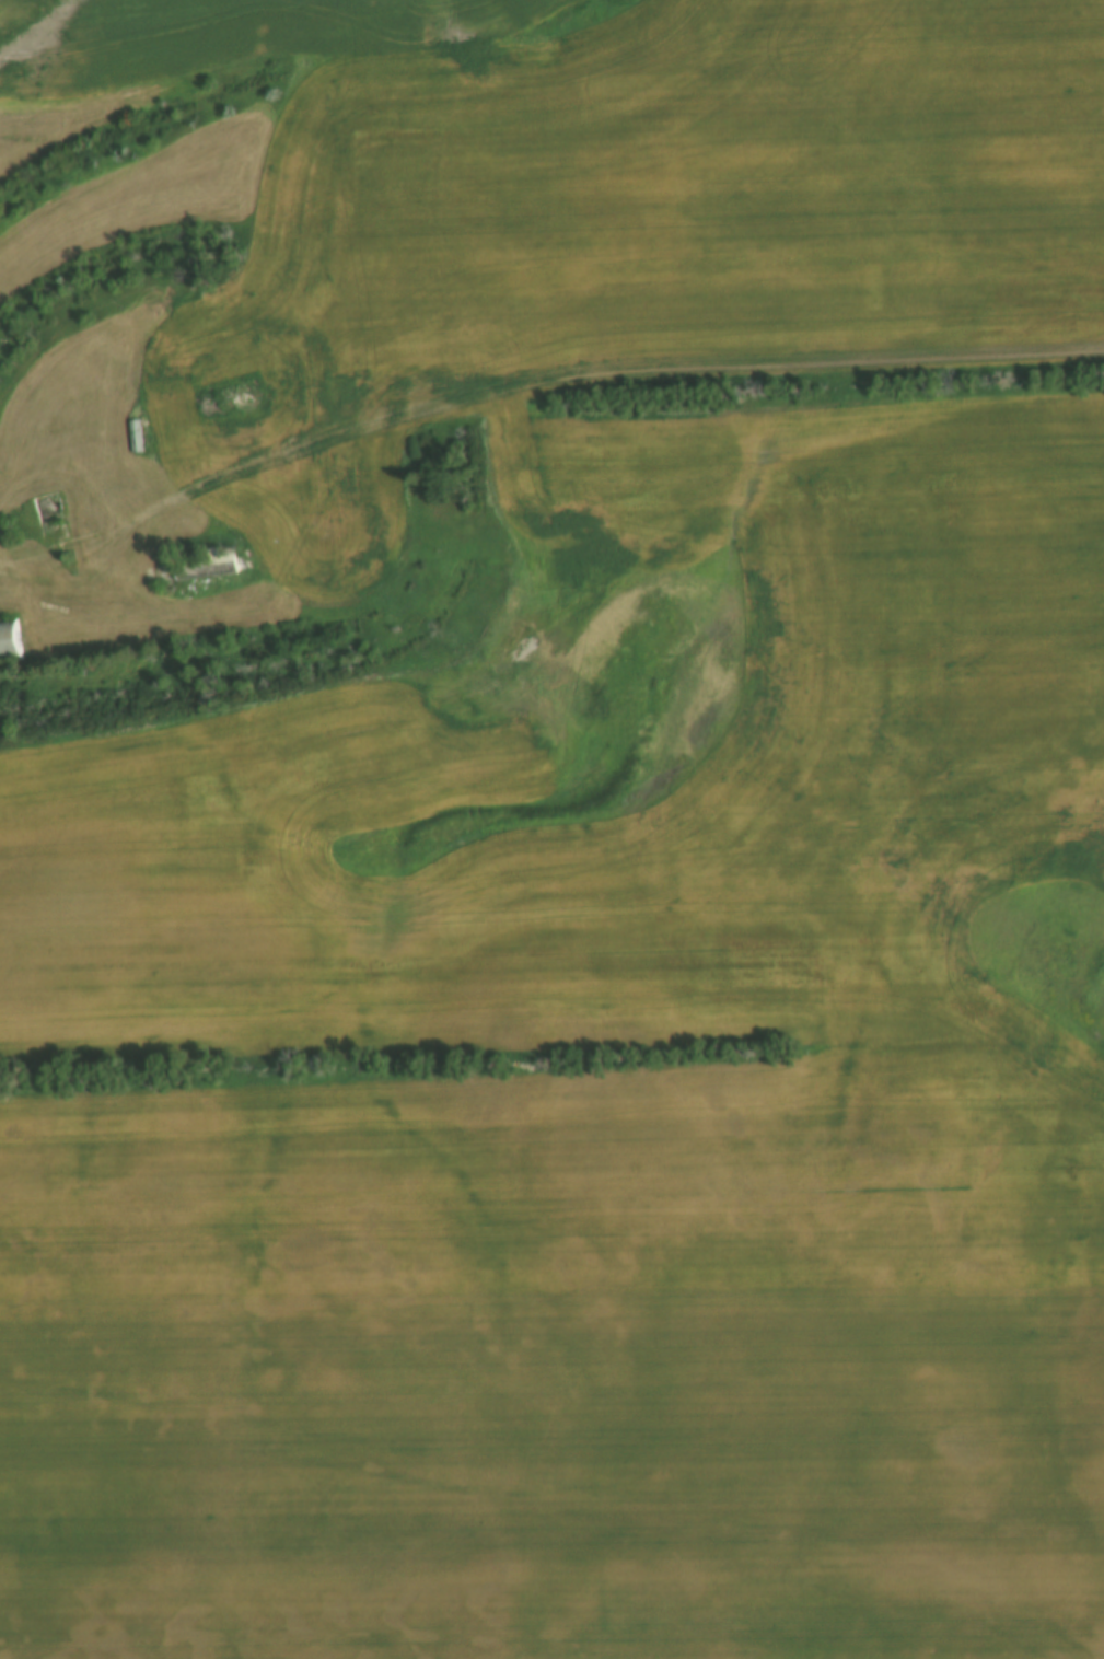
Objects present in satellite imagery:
road: (534, 382)
building: (137, 438)
building: (48, 511)
building: (208, 568)
building: (11, 642)
road: (534, 1487)

